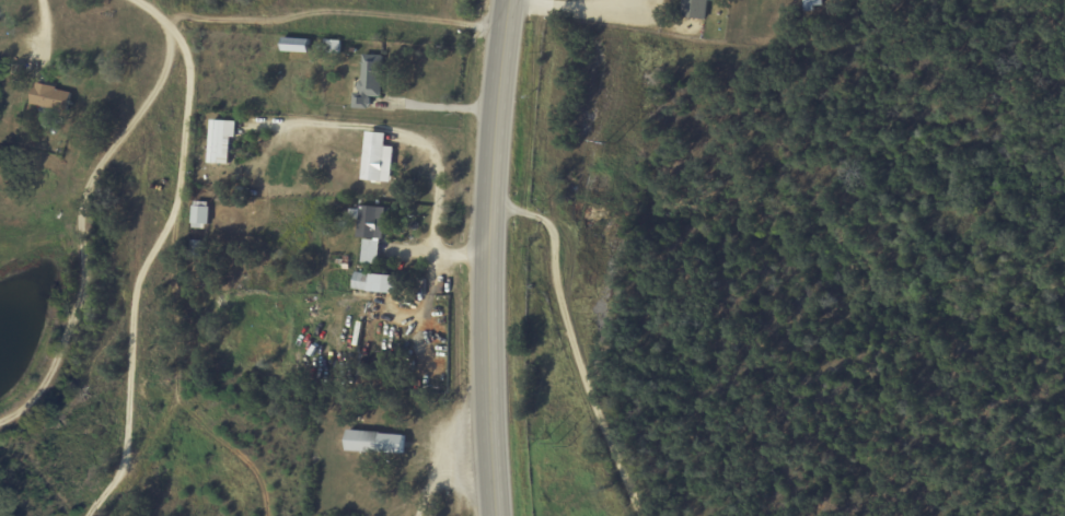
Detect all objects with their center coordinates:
building: (714, 0)
building: (812, 3)
building: (694, 9)
road: (571, 13)
road: (335, 17)
road: (169, 40)
building: (294, 45)
building: (333, 47)
building: (369, 81)
building: (49, 97)
building: (220, 141)
power tower: (605, 148)
road: (422, 156)
building: (377, 159)
road: (181, 167)
building: (200, 213)
building: (370, 234)
road: (488, 257)
road: (81, 262)
building: (377, 283)
road: (568, 330)
road: (129, 380)
building: (374, 442)
power tower: (553, 445)
road: (37, 467)
road: (117, 486)
road: (635, 504)

